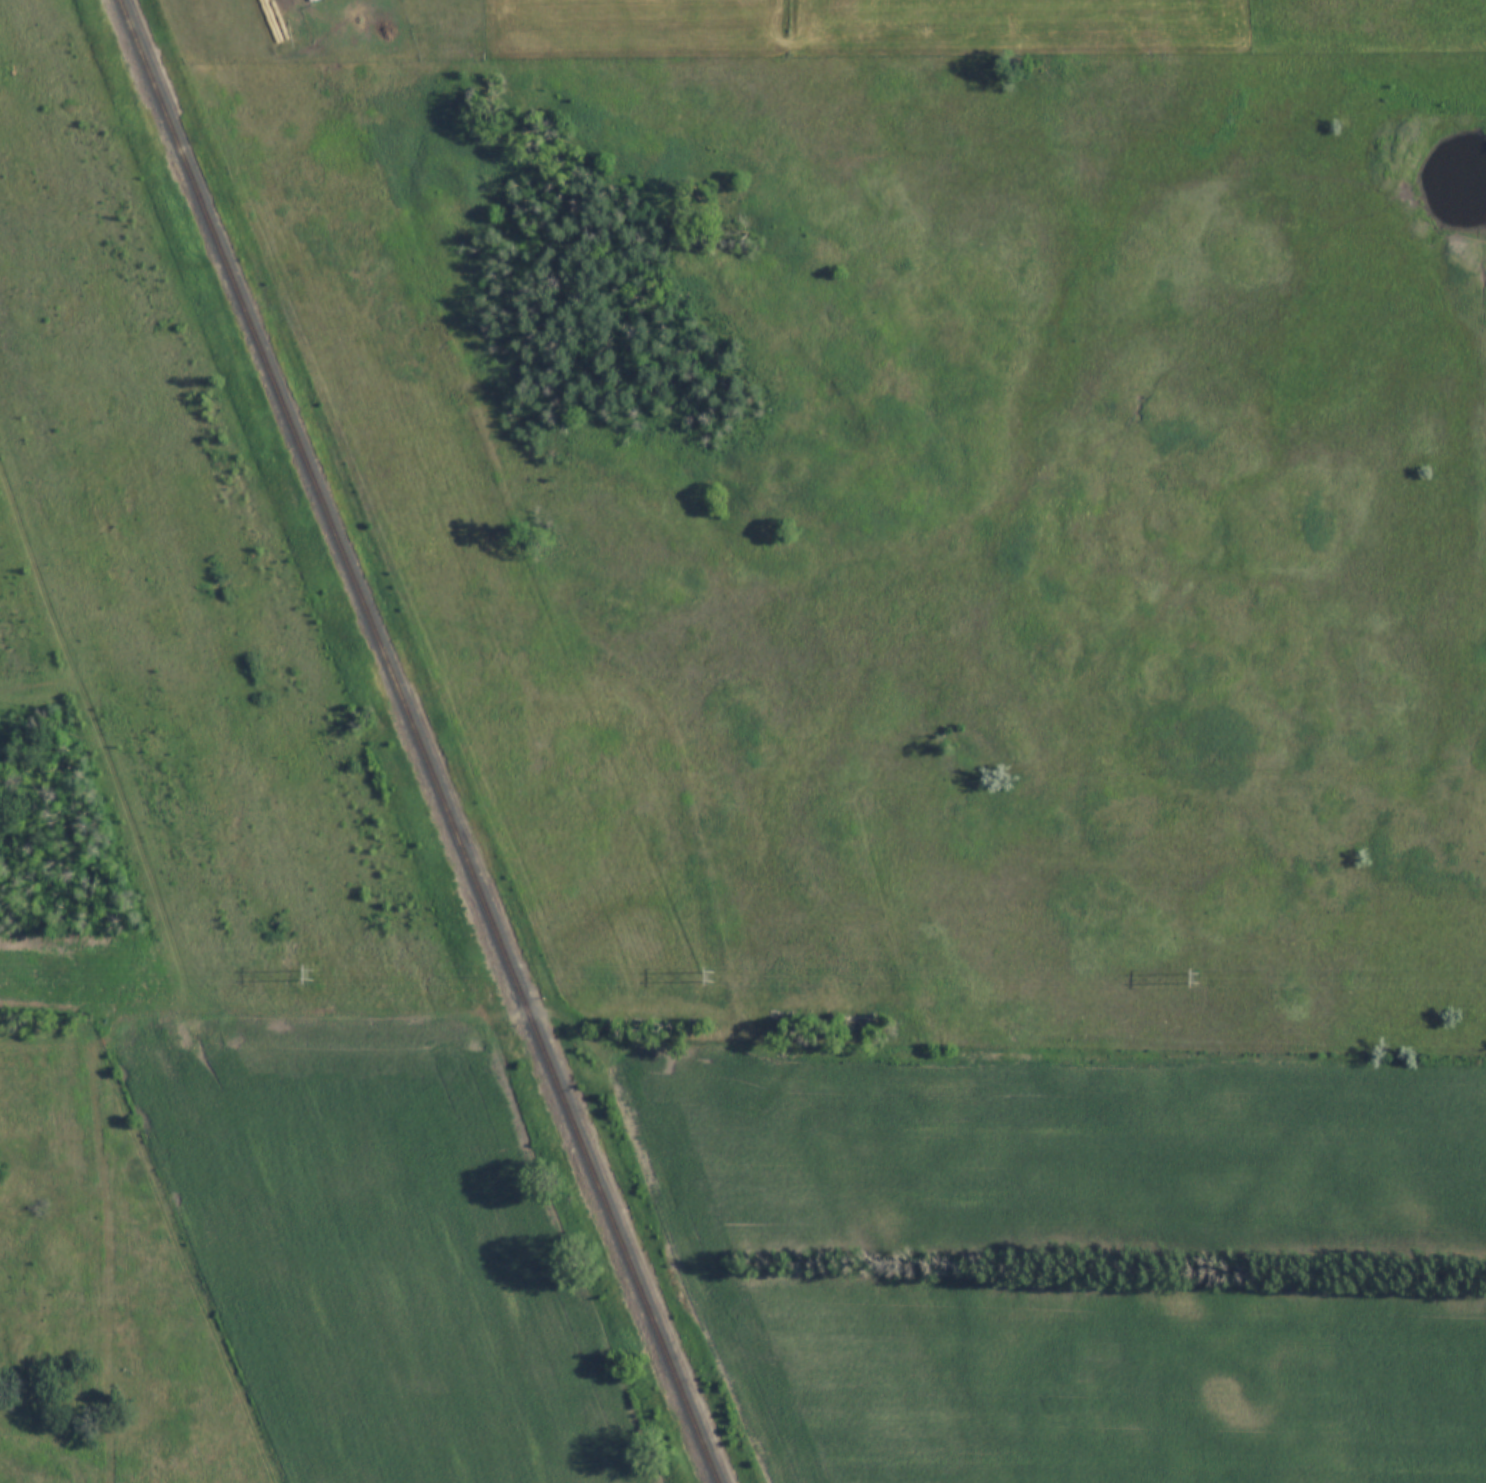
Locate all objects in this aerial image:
railway: (418, 741)
power tower: (312, 972)
power tower: (1198, 978)
power tower: (712, 979)

